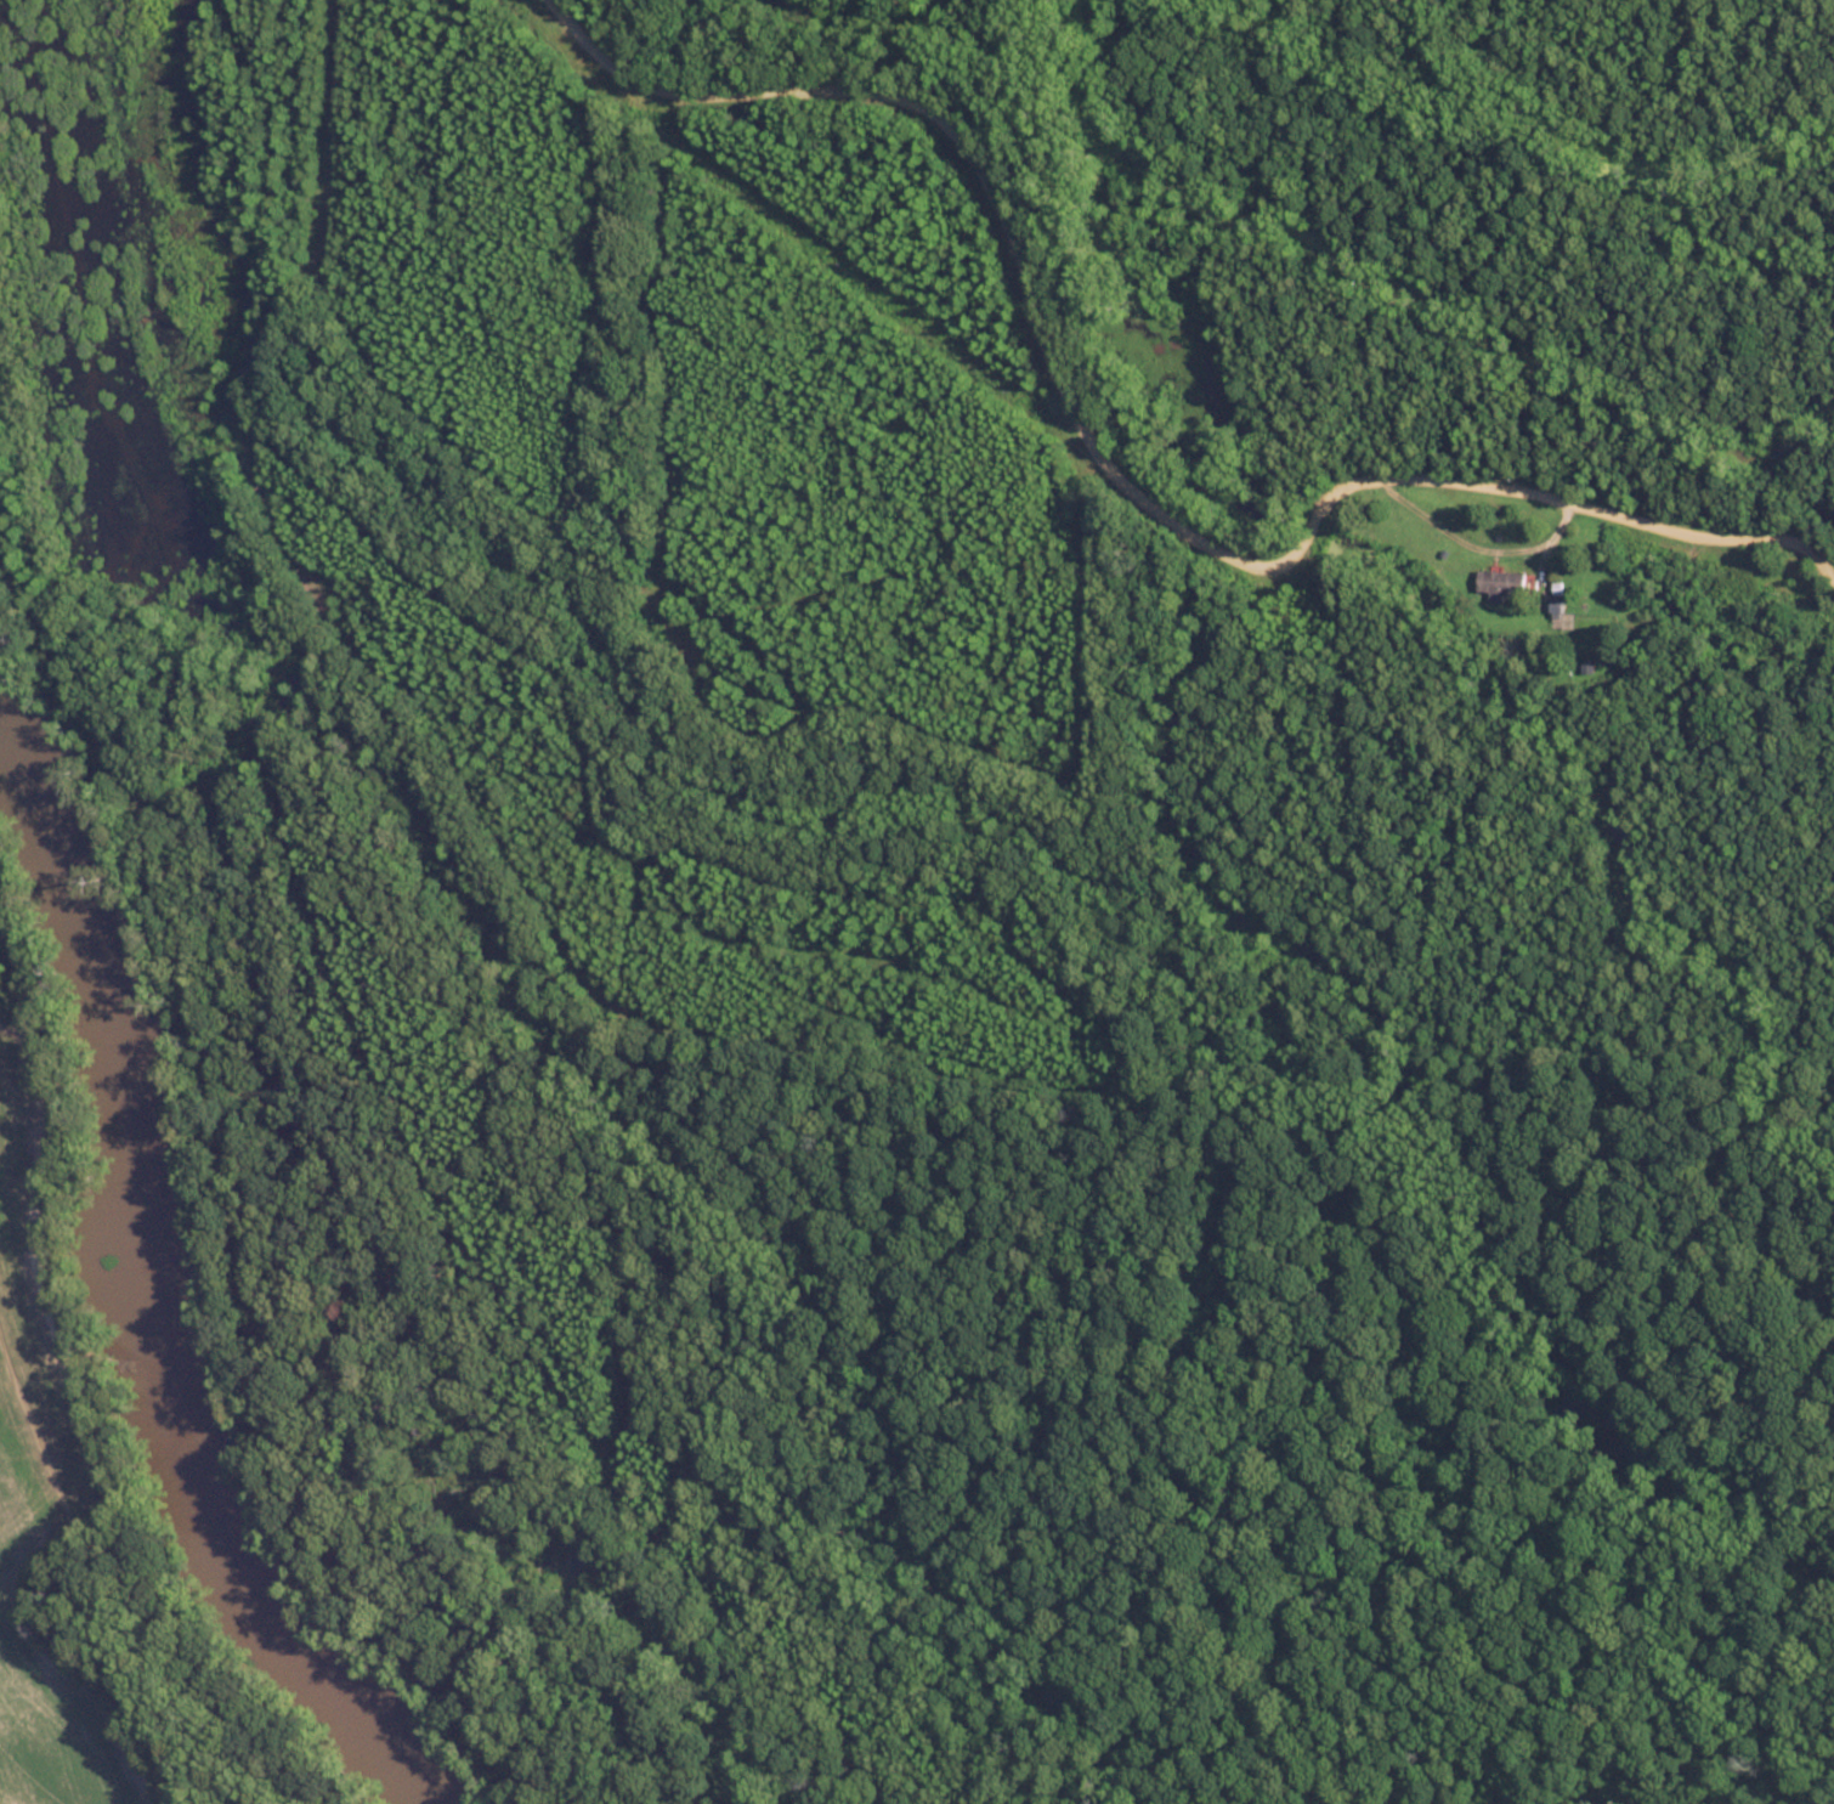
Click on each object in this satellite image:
building: (1504, 582)

